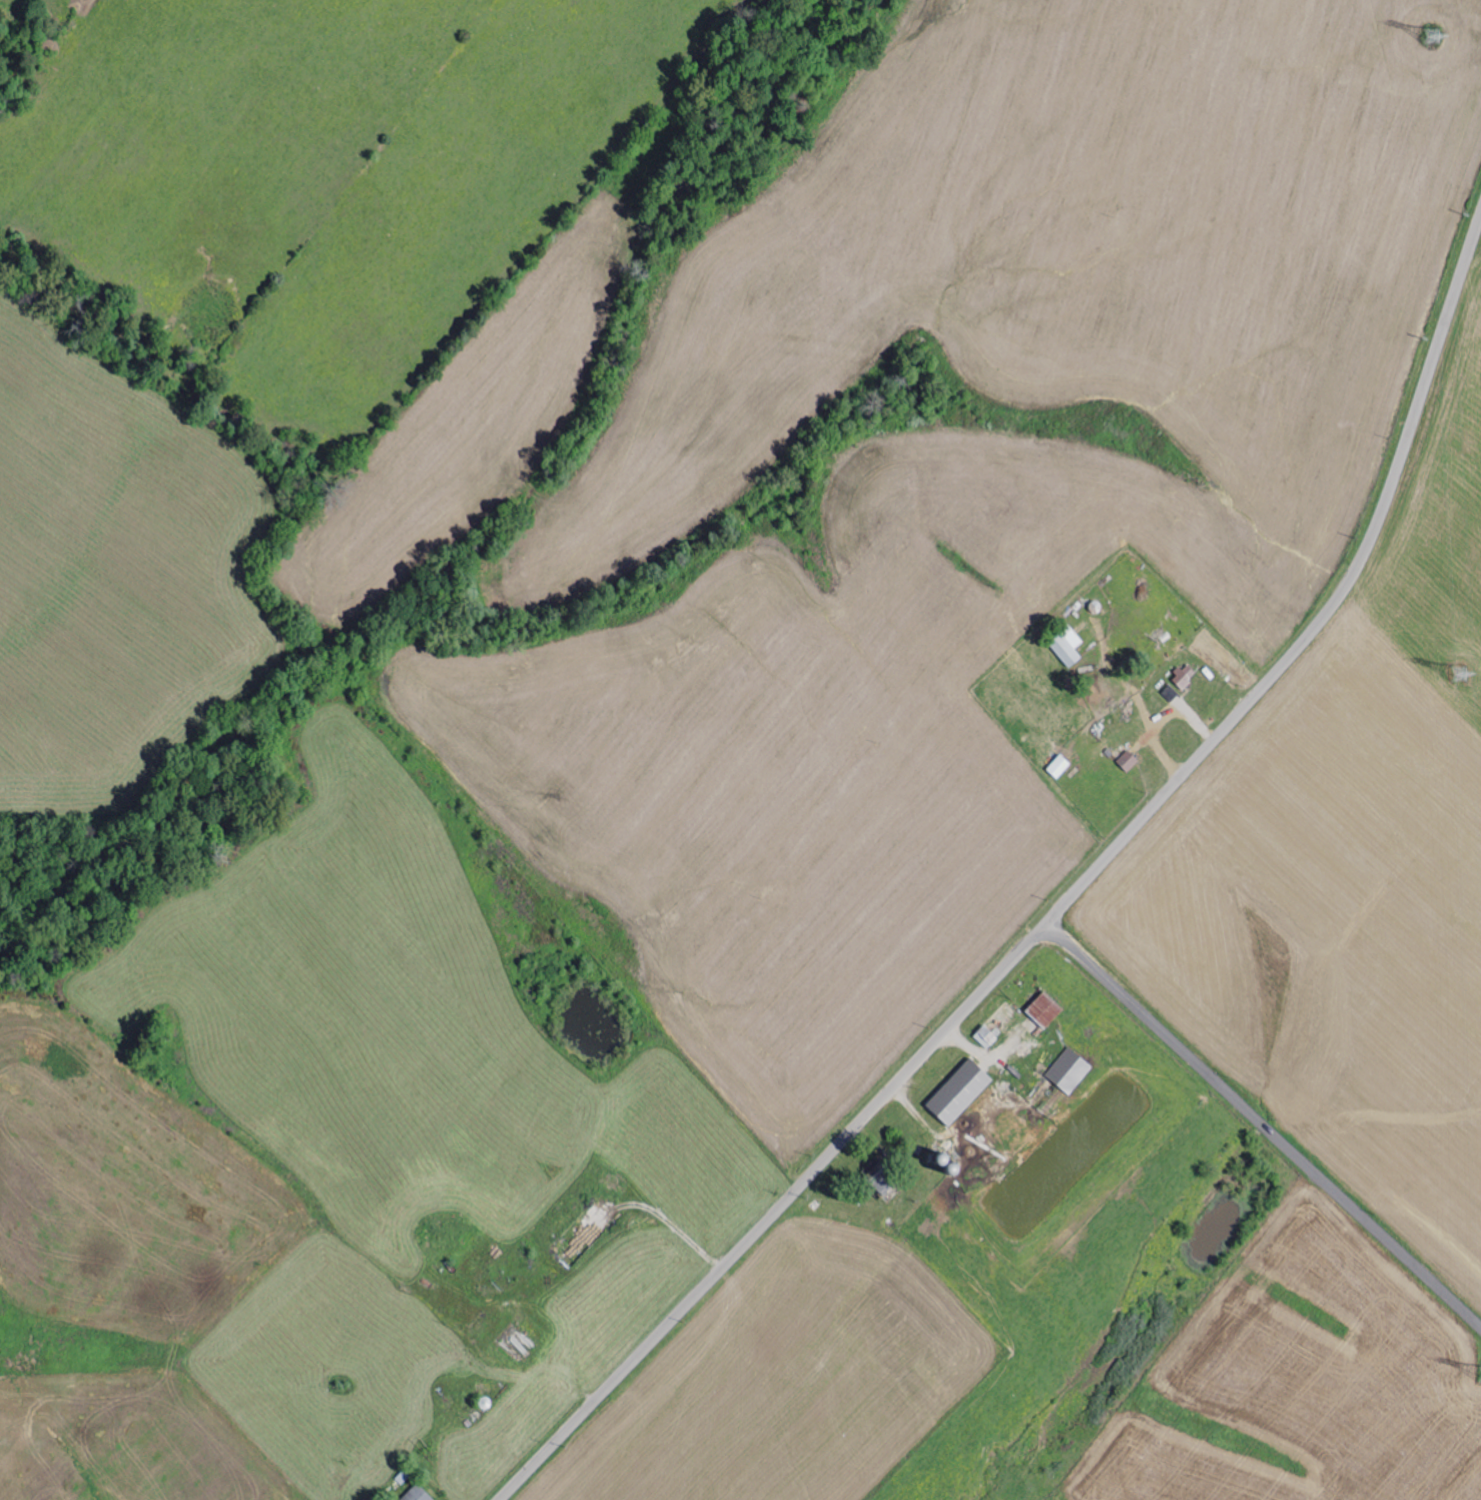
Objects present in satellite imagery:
building: (1185, 676)
building: (1128, 760)
building: (1060, 766)
road: (1064, 904)
building: (1047, 1009)
building: (999, 1024)
building: (1070, 1070)
building: (962, 1091)
road: (1262, 1128)
building: (885, 1176)
building: (420, 1494)

